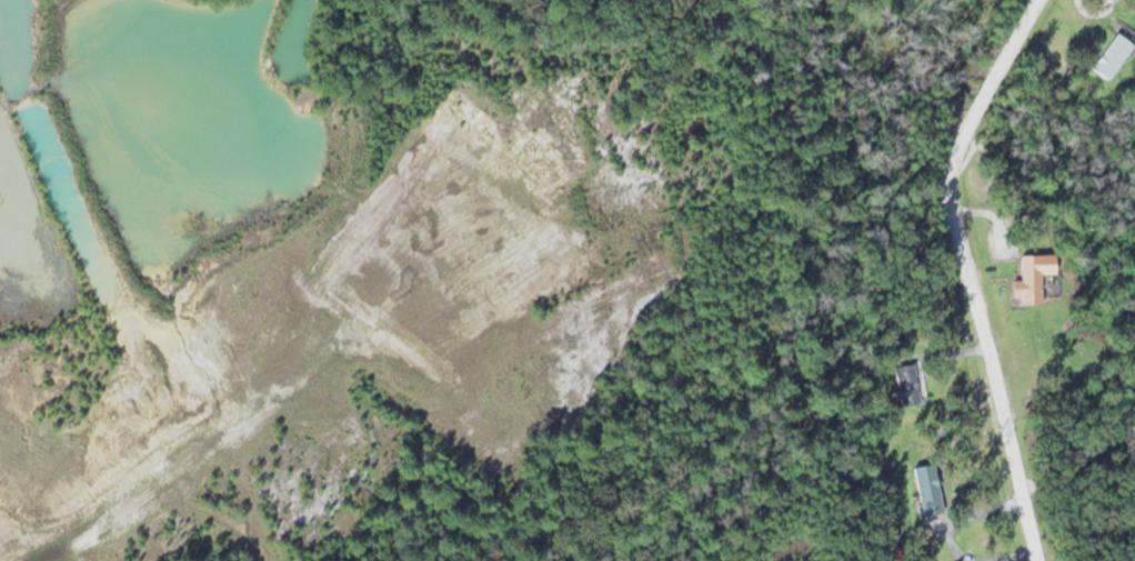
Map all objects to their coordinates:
building: (1109, 54)
road: (970, 272)
building: (1032, 277)
building: (903, 385)
building: (926, 488)

